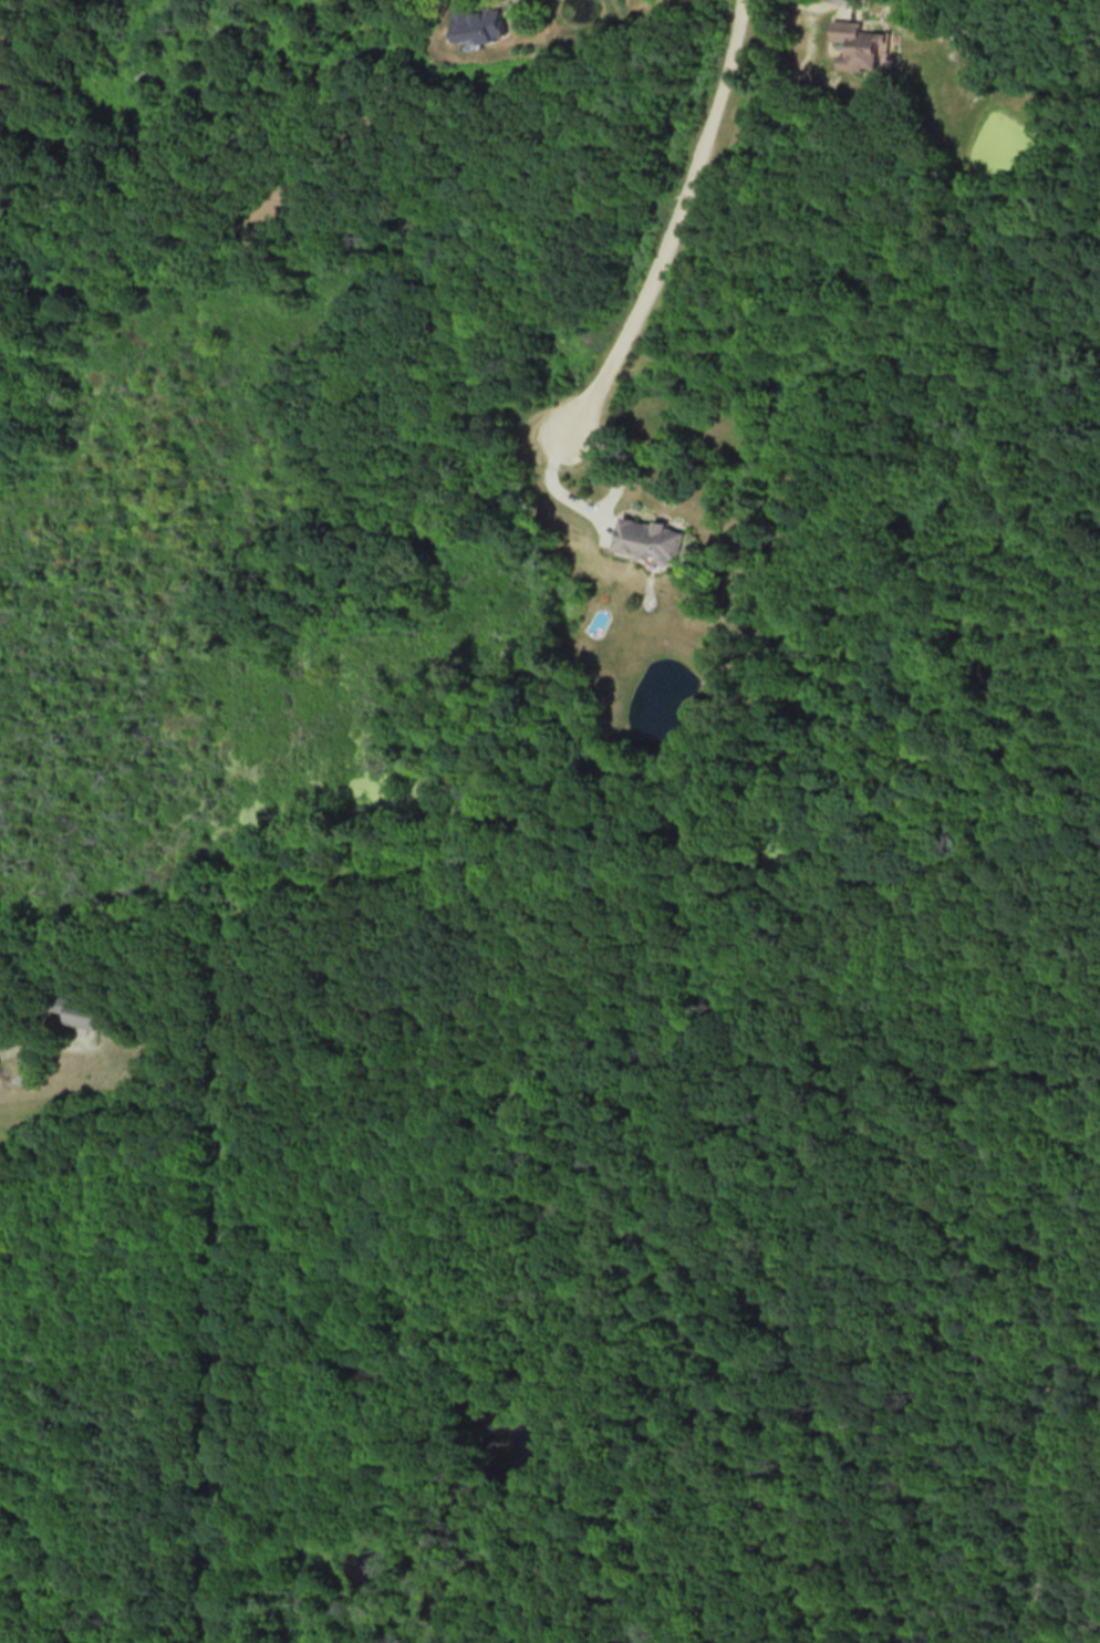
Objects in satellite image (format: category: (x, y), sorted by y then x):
building: (481, 23)
building: (858, 46)
road: (795, 72)
road: (673, 221)
road: (599, 513)
building: (653, 539)
building: (81, 1015)

